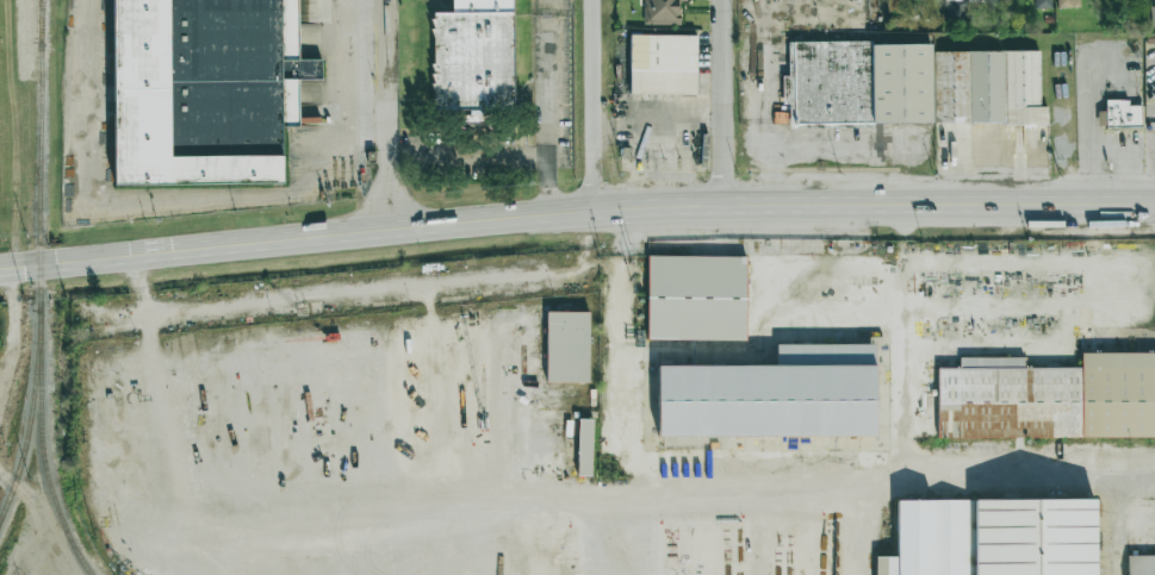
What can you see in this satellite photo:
building: (1067, 2)
building: (1042, 4)
building: (960, 7)
building: (660, 12)
building: (1151, 15)
railway: (41, 20)
building: (473, 57)
building: (662, 64)
building: (858, 83)
building: (987, 87)
building: (204, 89)
road: (720, 104)
road: (589, 106)
road: (387, 114)
building: (1123, 115)
road: (549, 117)
road: (1087, 130)
road: (478, 156)
road: (991, 179)
road: (198, 200)
road: (1026, 207)
road: (448, 223)
railway: (39, 261)
road: (361, 296)
building: (696, 298)
road: (14, 326)
road: (628, 332)
building: (566, 346)
building: (772, 395)
building: (1048, 398)
road: (907, 433)
building: (584, 446)
railway: (42, 448)
road: (893, 462)
road: (538, 498)
road: (35, 505)
road: (1111, 519)
building: (993, 538)
road: (644, 543)
road: (39, 563)
building: (1141, 564)

